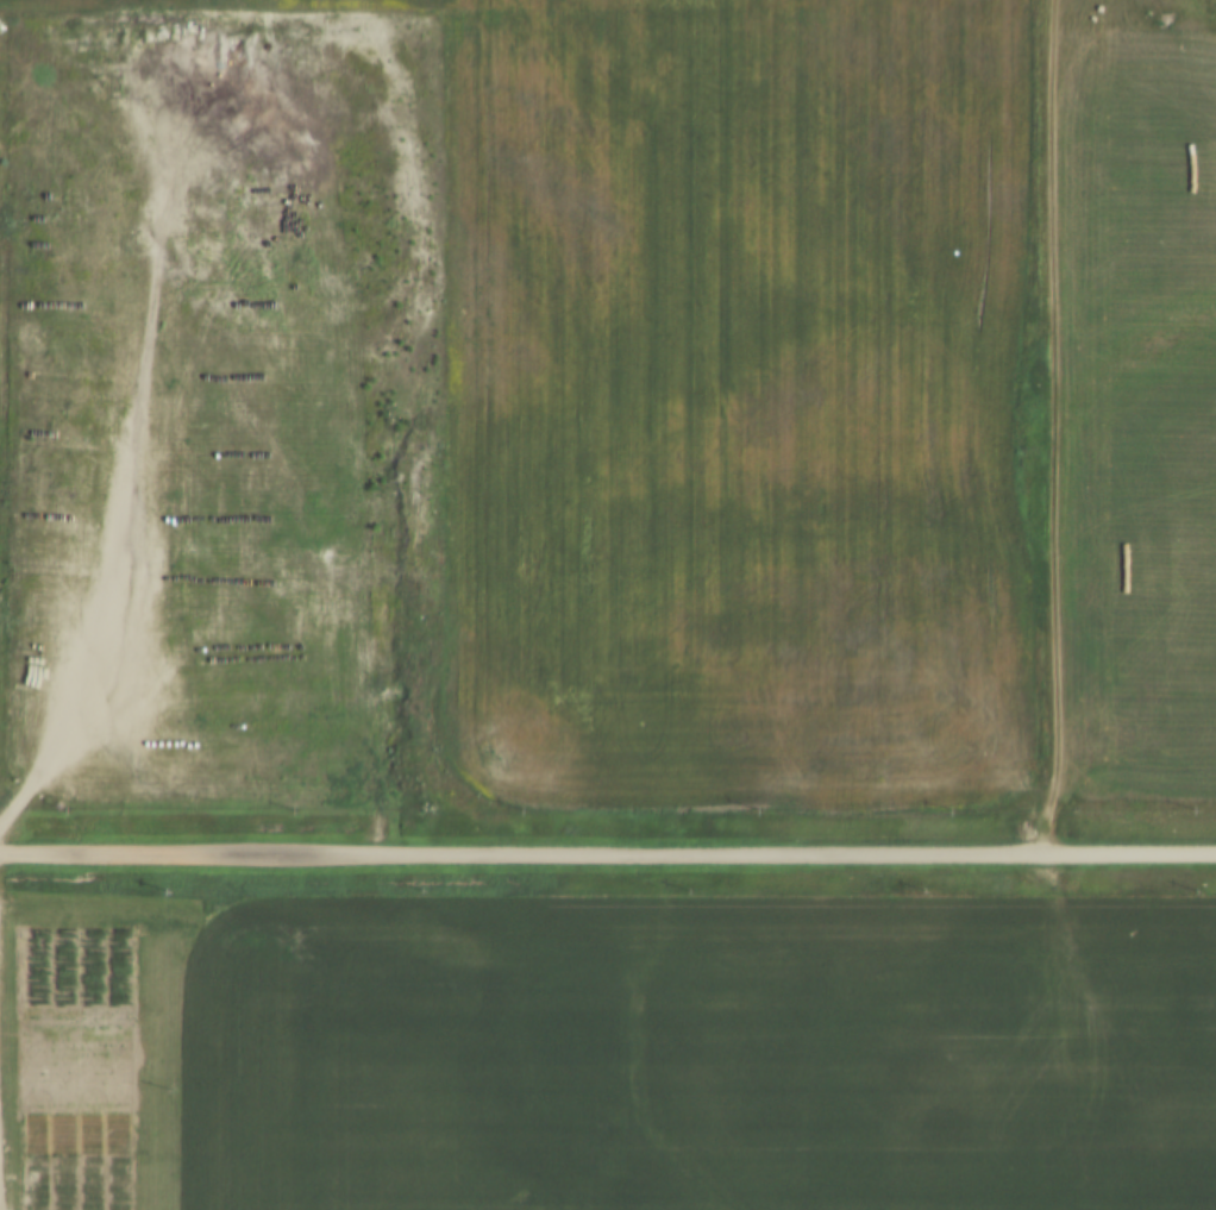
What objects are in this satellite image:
road: (608, 851)

